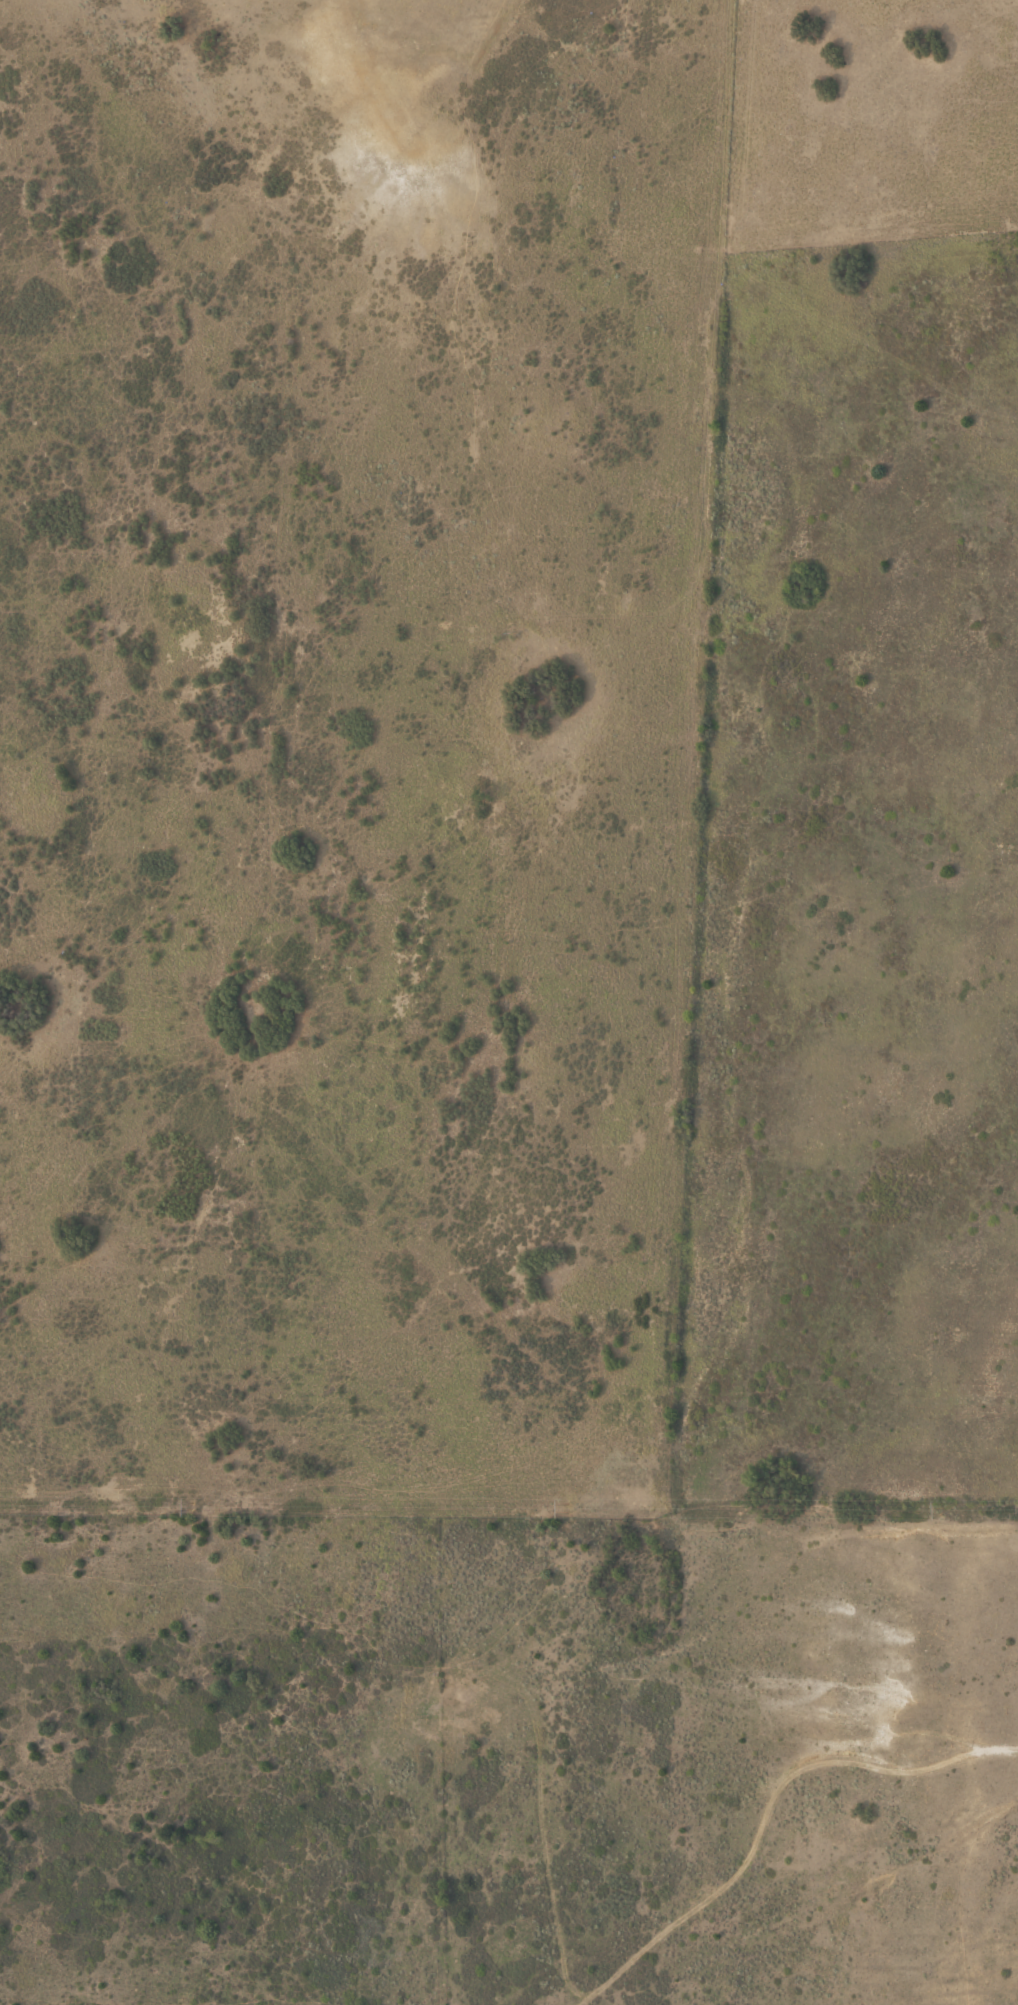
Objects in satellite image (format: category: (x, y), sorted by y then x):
power tower: (190, 1505)
power tower: (565, 1507)
power tower: (939, 1510)

